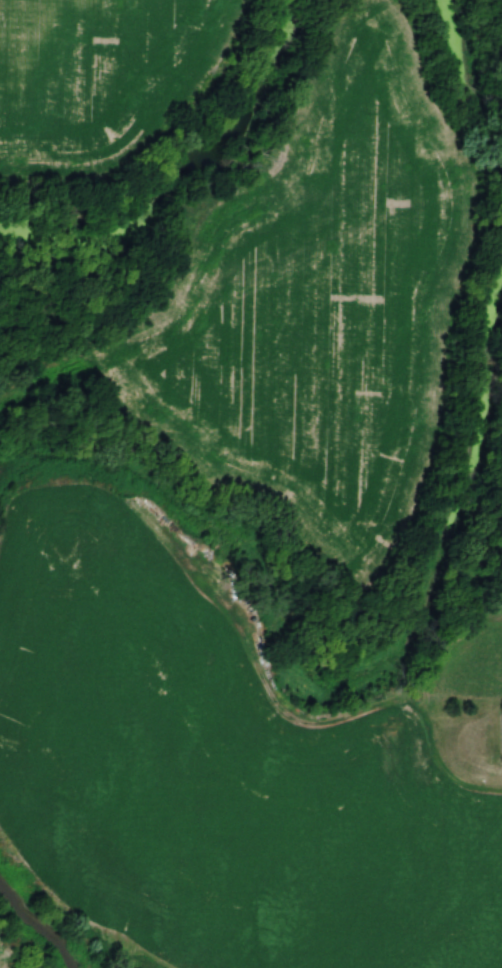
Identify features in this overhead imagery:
crop: (213, 778)
river: (44, 928)

